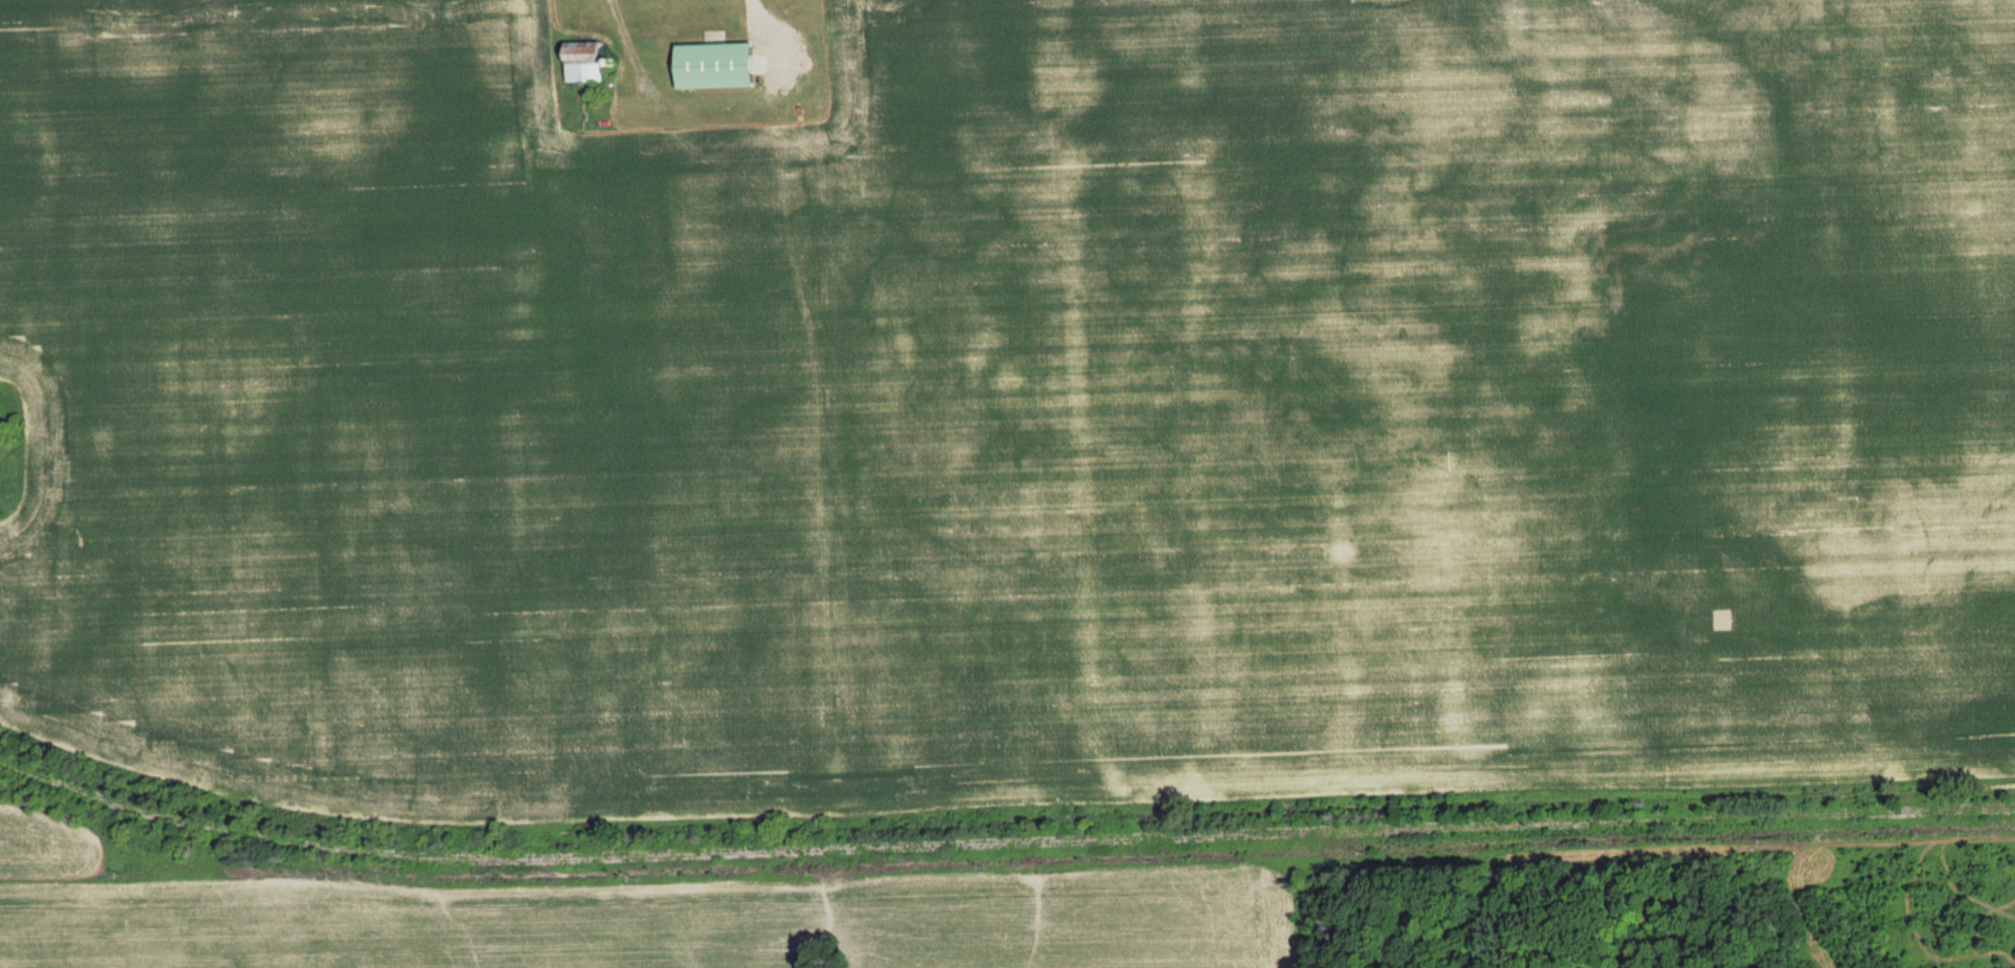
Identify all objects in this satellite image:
building: (587, 61)
building: (717, 65)
building: (647, 91)
railway: (1001, 841)

